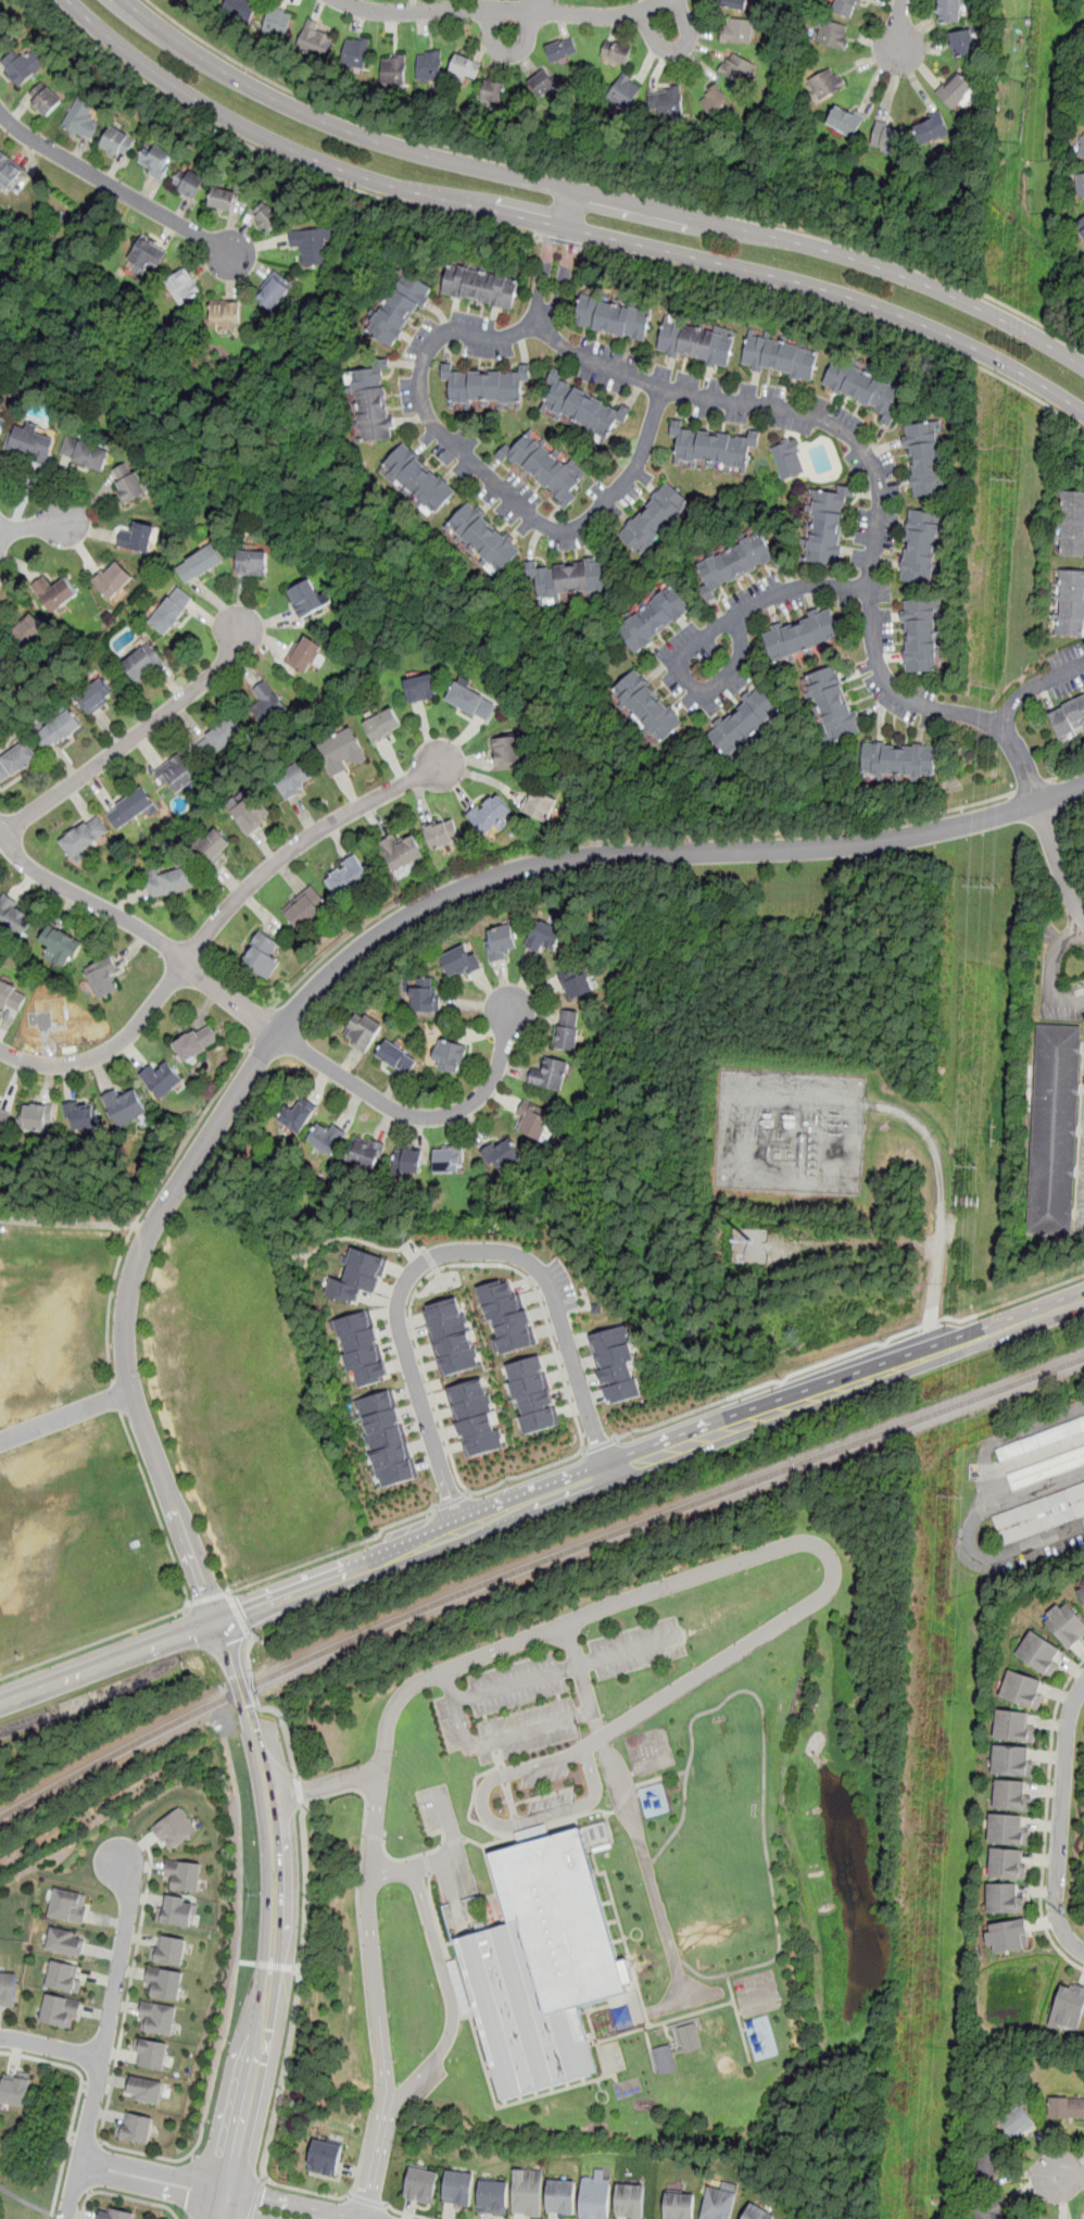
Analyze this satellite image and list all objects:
road: (540, 4)
building: (735, 4)
building: (240, 7)
building: (845, 8)
road: (503, 9)
building: (948, 11)
building: (276, 21)
road: (899, 24)
building: (738, 29)
building: (4, 33)
building: (832, 33)
building: (315, 39)
building: (962, 42)
road: (678, 48)
building: (562, 49)
building: (616, 50)
building: (355, 51)
road: (508, 53)
building: (429, 64)
building: (22, 65)
building: (465, 66)
building: (738, 67)
building: (393, 68)
building: (540, 82)
building: (825, 83)
building: (955, 89)
building: (623, 91)
building: (493, 93)
building: (45, 99)
building: (666, 102)
building: (716, 102)
building: (81, 117)
building: (845, 120)
building: (932, 128)
building: (887, 135)
building: (117, 141)
building: (1081, 147)
road: (272, 156)
building: (155, 160)
building: (7, 170)
building: (189, 181)
road: (610, 183)
building: (1082, 184)
road: (115, 187)
road: (597, 195)
building: (223, 198)
building: (267, 216)
building: (1080, 225)
road: (564, 227)
road: (559, 241)
building: (312, 243)
building: (147, 254)
road: (556, 254)
building: (481, 285)
building: (182, 286)
building: (274, 290)
building: (401, 306)
road: (844, 310)
building: (226, 314)
building: (614, 316)
building: (696, 340)
building: (780, 355)
building: (486, 385)
building: (865, 386)
building: (371, 402)
building: (581, 406)
building: (2, 422)
building: (29, 441)
building: (713, 447)
building: (85, 452)
building: (925, 455)
building: (787, 457)
building: (545, 464)
road: (487, 477)
building: (418, 478)
building: (129, 480)
power tower: (1006, 481)
building: (655, 517)
building: (828, 524)
building: (1072, 524)
road: (36, 525)
building: (137, 536)
building: (486, 538)
building: (920, 546)
road: (873, 555)
building: (253, 562)
building: (201, 563)
building: (735, 564)
building: (571, 578)
building: (114, 581)
building: (55, 594)
building: (307, 597)
building: (1069, 602)
building: (173, 611)
building: (654, 618)
building: (30, 631)
road: (706, 635)
building: (920, 635)
building: (802, 636)
building: (304, 653)
building: (142, 663)
building: (7, 668)
road: (1032, 686)
building: (420, 687)
building: (97, 695)
building: (471, 700)
building: (267, 703)
building: (833, 704)
building: (647, 706)
building: (1068, 717)
building: (745, 724)
building: (383, 725)
building: (60, 730)
road: (131, 737)
building: (220, 737)
building: (343, 752)
building: (506, 752)
building: (899, 760)
building: (16, 761)
building: (177, 773)
road: (1066, 773)
building: (295, 780)
road: (1031, 786)
building: (542, 806)
building: (130, 807)
building: (490, 813)
building: (252, 814)
building: (442, 833)
road: (619, 835)
building: (86, 837)
building: (214, 848)
building: (403, 851)
building: (348, 876)
building: (172, 882)
power tower: (985, 886)
building: (305, 906)
building: (15, 916)
road: (216, 923)
road: (140, 927)
building: (544, 935)
building: (500, 942)
building: (61, 946)
road: (355, 952)
building: (262, 954)
building: (462, 961)
road: (1054, 967)
building: (103, 978)
building: (576, 981)
building: (425, 994)
building: (12, 995)
road: (262, 1021)
building: (566, 1028)
building: (362, 1030)
building: (197, 1042)
building: (449, 1055)
building: (398, 1057)
building: (550, 1074)
building: (162, 1078)
building: (125, 1105)
building: (298, 1114)
building: (83, 1115)
building: (36, 1116)
road: (417, 1116)
building: (4, 1117)
power tower: (739, 1119)
building: (532, 1120)
power tower: (835, 1124)
building: (1054, 1129)
power tower: (974, 1130)
power substation: (790, 1133)
building: (327, 1137)
building: (365, 1151)
building: (502, 1154)
building: (448, 1158)
building: (407, 1161)
power tower: (972, 1167)
road: (149, 1198)
power tower: (971, 1202)
road: (938, 1214)
building: (752, 1242)
road: (448, 1252)
building: (358, 1276)
road: (1024, 1296)
road: (411, 1306)
building: (507, 1316)
building: (452, 1336)
building: (362, 1346)
building: (616, 1364)
building: (532, 1394)
road: (116, 1396)
road: (64, 1416)
building: (476, 1417)
road: (678, 1417)
road: (773, 1418)
building: (386, 1438)
building: (1041, 1439)
road: (601, 1444)
building: (1047, 1468)
road: (468, 1492)
power tower: (951, 1497)
road: (452, 1501)
building: (1041, 1514)
road: (335, 1552)
railway: (532, 1566)
building: (1082, 1592)
road: (210, 1597)
road: (189, 1602)
road: (186, 1603)
road: (238, 1614)
road: (231, 1617)
building: (1066, 1623)
road: (515, 1640)
building: (1038, 1652)
road: (563, 1667)
building: (1022, 1690)
road: (267, 1709)
building: (1013, 1727)
road: (492, 1740)
building: (1011, 1760)
road: (324, 1783)
road: (299, 1790)
building: (1011, 1795)
road: (626, 1805)
road: (1046, 1818)
road: (1060, 1820)
road: (496, 1823)
building: (174, 1828)
building: (1007, 1829)
power tower: (933, 1846)
building: (1007, 1863)
road: (407, 1868)
building: (182, 1875)
building: (1005, 1897)
building: (66, 1906)
building: (176, 1909)
road: (273, 1919)
building: (1007, 1934)
building: (64, 1940)
building: (168, 1948)
road: (247, 1963)
building: (542, 1964)
road: (275, 1965)
road: (362, 1965)
road: (298, 1968)
building: (62, 1976)
building: (165, 1981)
building: (8, 1989)
road: (298, 1993)
road: (449, 1996)
building: (1068, 2005)
building: (60, 2011)
building: (157, 2018)
building: (690, 2036)
road: (104, 2042)
road: (51, 2048)
building: (150, 2054)
building: (665, 2058)
road: (84, 2084)
building: (16, 2088)
road: (98, 2088)
building: (144, 2089)
road: (77, 2102)
building: (1067, 2107)
building: (1017, 2121)
building: (136, 2128)
road: (73, 2136)
road: (87, 2140)
road: (101, 2141)
road: (198, 2144)
road: (193, 2155)
building: (325, 2158)
building: (985, 2166)
road: (1067, 2177)
building: (420, 2184)
road: (196, 2187)
building: (457, 2187)
road: (194, 2190)
road: (305, 2191)
building: (528, 2192)
road: (123, 2195)
building: (493, 2196)
building: (562, 2196)
building: (596, 2196)
road: (255, 2199)
road: (25, 2201)
road: (366, 2201)
building: (630, 2201)
building: (720, 2202)
building: (679, 2205)
building: (991, 2209)
building: (758, 2212)
building: (114, 2214)
road: (405, 2214)

